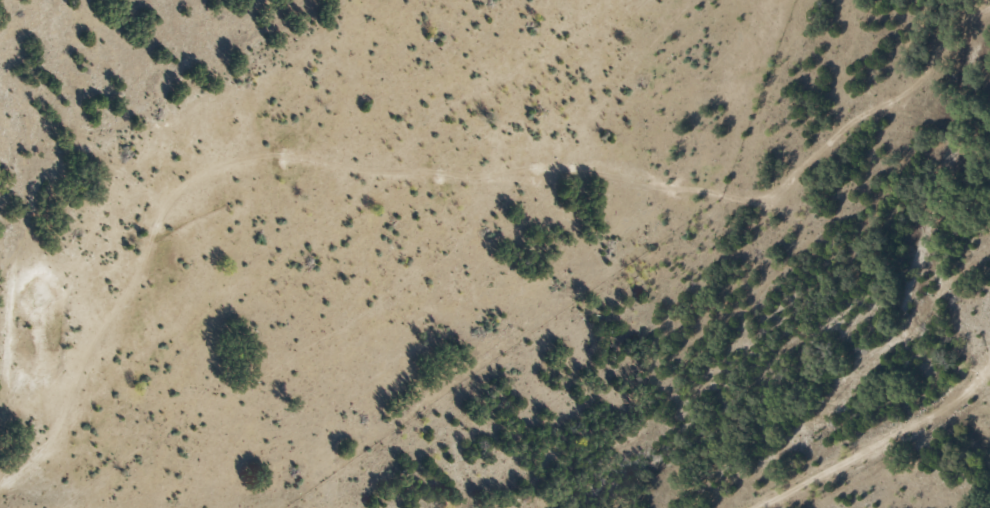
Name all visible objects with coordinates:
road: (898, 437)

